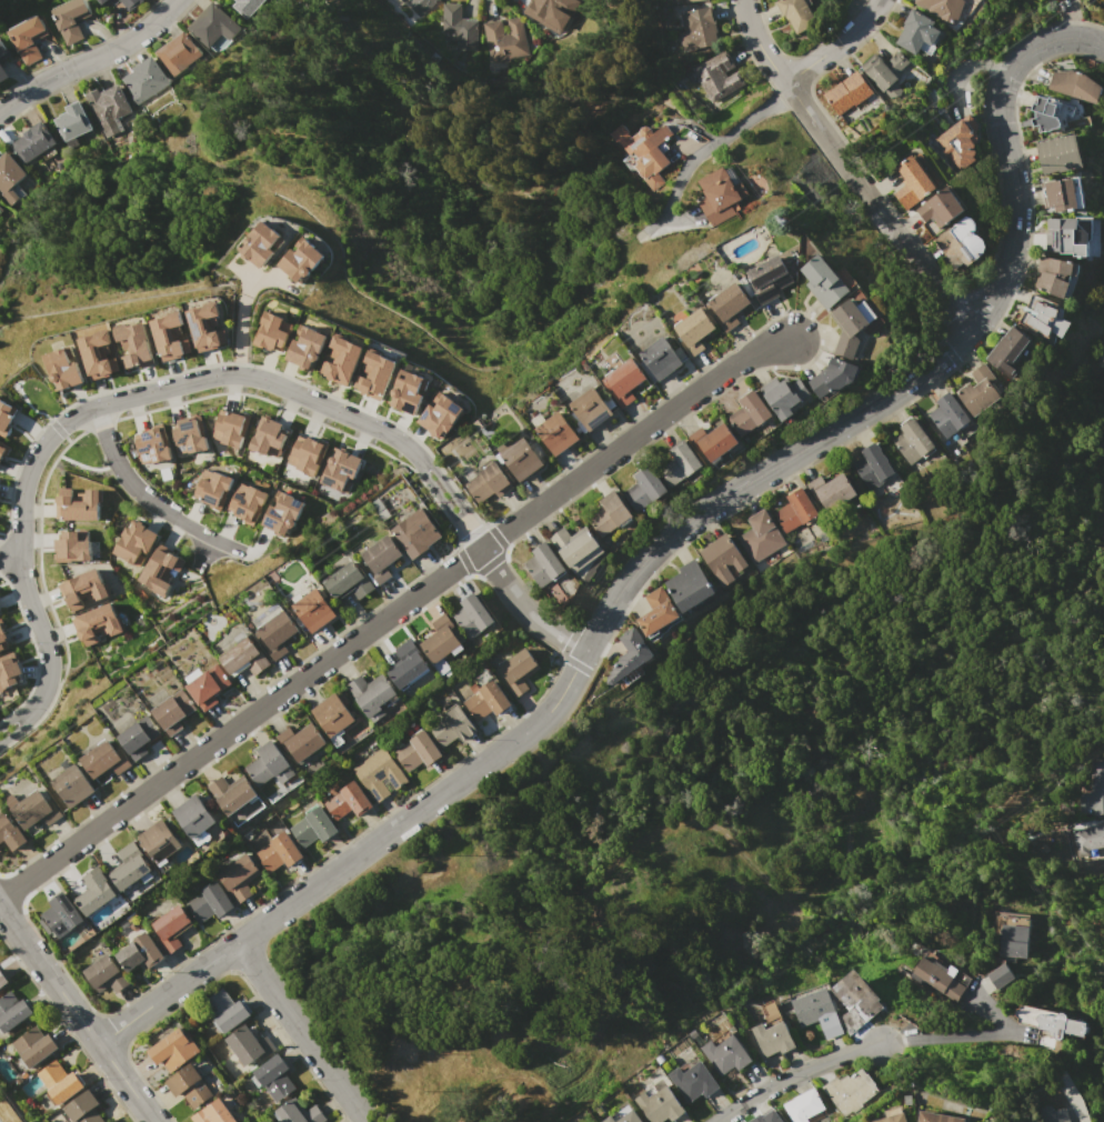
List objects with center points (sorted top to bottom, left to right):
building: (691, 0)
building: (106, 2)
building: (408, 2)
building: (129, 3)
building: (247, 7)
building: (941, 8)
building: (550, 12)
building: (796, 13)
building: (71, 19)
building: (458, 27)
building: (213, 28)
building: (697, 29)
building: (492, 31)
building: (917, 31)
building: (29, 39)
road: (839, 48)
building: (3, 50)
building: (178, 52)
road: (88, 58)
building: (886, 72)
building: (3, 73)
building: (716, 76)
building: (144, 79)
building: (1075, 84)
building: (847, 92)
building: (108, 108)
building: (1058, 113)
building: (71, 121)
building: (960, 140)
road: (713, 141)
building: (32, 142)
building: (643, 151)
building: (1060, 153)
road: (847, 170)
building: (9, 177)
building: (913, 182)
building: (720, 196)
building: (1062, 196)
building: (942, 208)
power tower: (786, 224)
building: (1074, 236)
building: (962, 241)
building: (262, 243)
building: (302, 259)
building: (1056, 274)
building: (767, 279)
building: (824, 281)
building: (727, 302)
building: (1044, 318)
building: (207, 327)
road: (240, 327)
building: (851, 327)
building: (693, 331)
building: (273, 332)
building: (170, 337)
building: (134, 345)
building: (307, 347)
building: (1008, 351)
building: (99, 354)
building: (658, 360)
building: (342, 361)
building: (63, 370)
building: (377, 375)
building: (833, 378)
building: (624, 382)
building: (410, 391)
building: (980, 391)
building: (784, 395)
road: (92, 408)
building: (590, 409)
building: (750, 413)
building: (441, 415)
building: (4, 418)
building: (951, 420)
building: (231, 428)
power tower: (503, 429)
building: (556, 432)
building: (189, 435)
building: (268, 437)
building: (912, 441)
building: (714, 445)
building: (152, 447)
building: (3, 449)
building: (307, 454)
building: (522, 460)
building: (680, 463)
building: (872, 467)
building: (340, 471)
building: (488, 482)
road: (448, 485)
building: (645, 488)
building: (213, 489)
building: (831, 491)
road: (438, 493)
road: (144, 499)
building: (248, 502)
building: (77, 504)
building: (795, 510)
building: (283, 512)
building: (610, 514)
building: (416, 532)
road: (471, 533)
building: (761, 537)
building: (137, 543)
road: (655, 544)
building: (72, 547)
building: (576, 547)
building: (724, 558)
building: (381, 559)
building: (545, 564)
building: (160, 571)
building: (349, 582)
building: (689, 585)
building: (83, 589)
power tower: (259, 605)
road: (524, 608)
building: (313, 610)
road: (392, 611)
building: (656, 611)
building: (473, 615)
building: (96, 624)
building: (274, 634)
building: (2, 639)
building: (442, 643)
building: (244, 658)
building: (630, 658)
building: (409, 664)
building: (516, 671)
building: (9, 673)
building: (208, 685)
building: (372, 694)
building: (486, 700)
building: (173, 711)
building: (334, 717)
road: (9, 722)
building: (452, 727)
road: (13, 733)
building: (138, 737)
building: (302, 741)
building: (418, 751)
building: (104, 759)
building: (270, 765)
building: (379, 774)
building: (73, 784)
building: (1094, 790)
building: (231, 793)
building: (348, 802)
building: (34, 809)
building: (194, 819)
building: (313, 827)
building: (9, 832)
building: (1090, 837)
building: (160, 840)
building: (278, 852)
building: (131, 866)
building: (239, 876)
building: (94, 891)
building: (209, 903)
building: (61, 914)
building: (171, 928)
building: (140, 952)
building: (106, 974)
building: (998, 974)
building: (939, 975)
building: (2, 980)
building: (861, 994)
building: (769, 1008)
road: (990, 1008)
building: (225, 1010)
building: (12, 1011)
building: (817, 1012)
road: (76, 1018)
building: (1048, 1021)
road: (300, 1032)
road: (956, 1034)
building: (773, 1039)
building: (249, 1044)
building: (33, 1045)
building: (174, 1049)
building: (726, 1054)
road: (792, 1074)
building: (274, 1076)
building: (59, 1082)
building: (693, 1082)
building: (190, 1085)
building: (850, 1091)
building: (660, 1105)
building: (804, 1105)
building: (81, 1109)
building: (214, 1113)
building: (298, 1113)
building: (1052, 1114)
building: (631, 1118)
building: (937, 1118)
building: (757, 1119)
building: (774, 1119)
building: (893, 1119)
building: (611, 1120)

